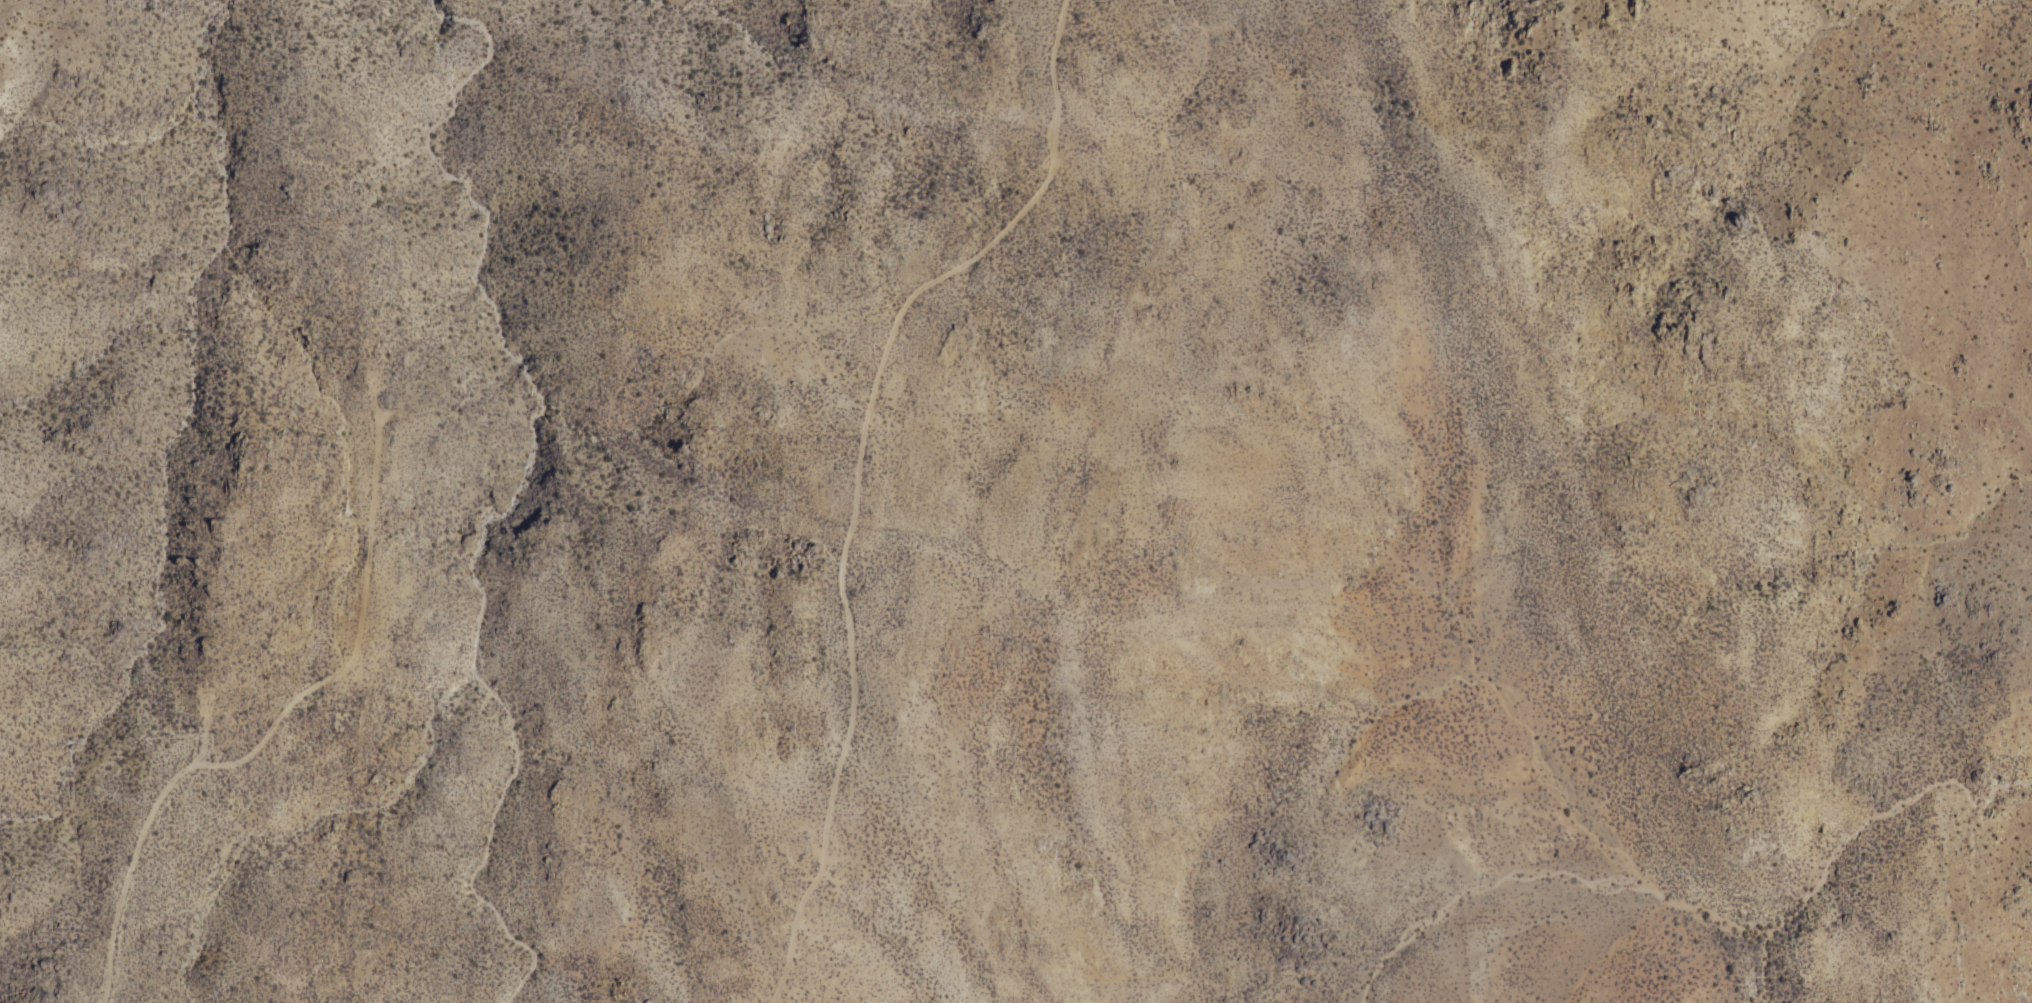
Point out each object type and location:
road: (860, 470)
road: (375, 505)
road: (201, 771)

